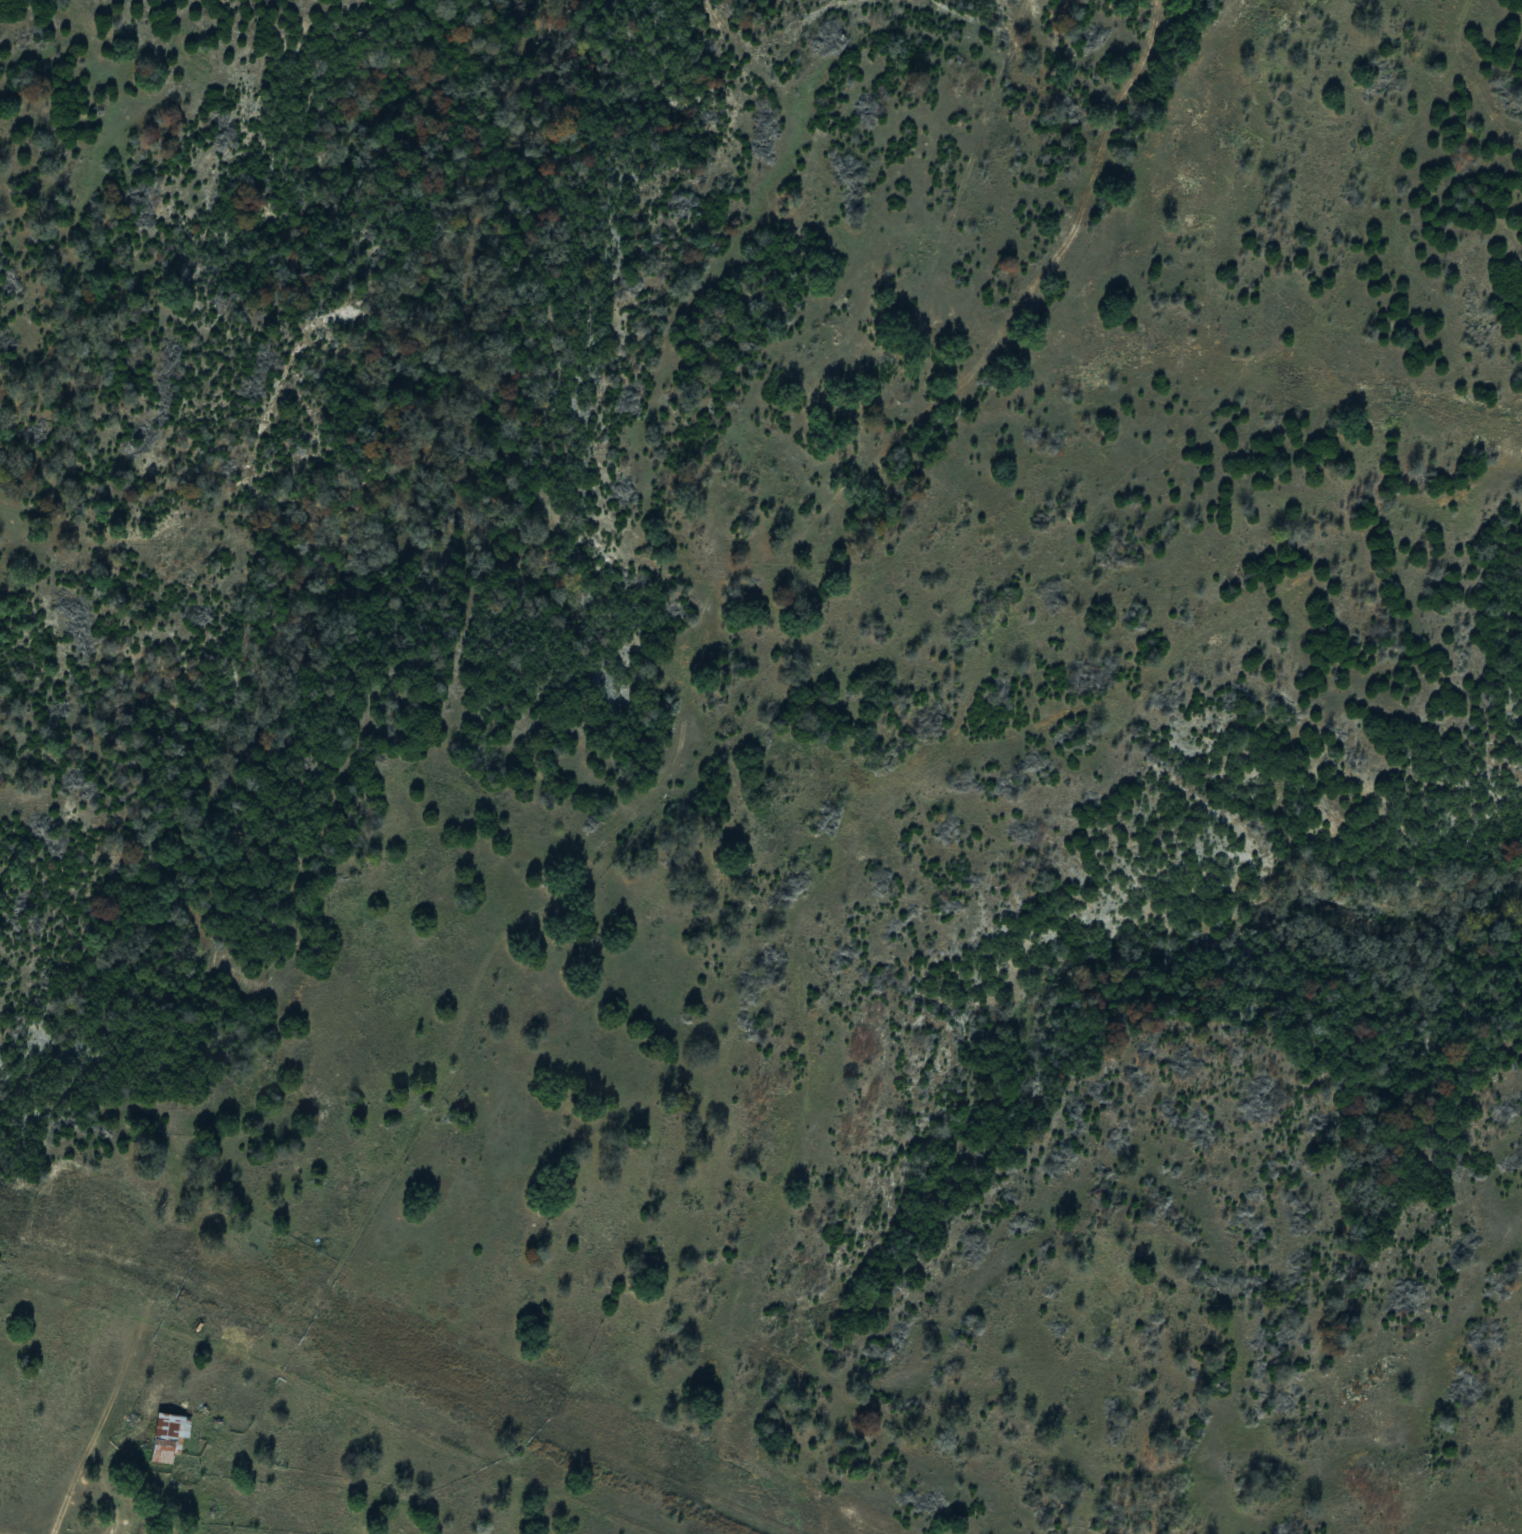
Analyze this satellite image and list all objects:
building: (170, 1428)

